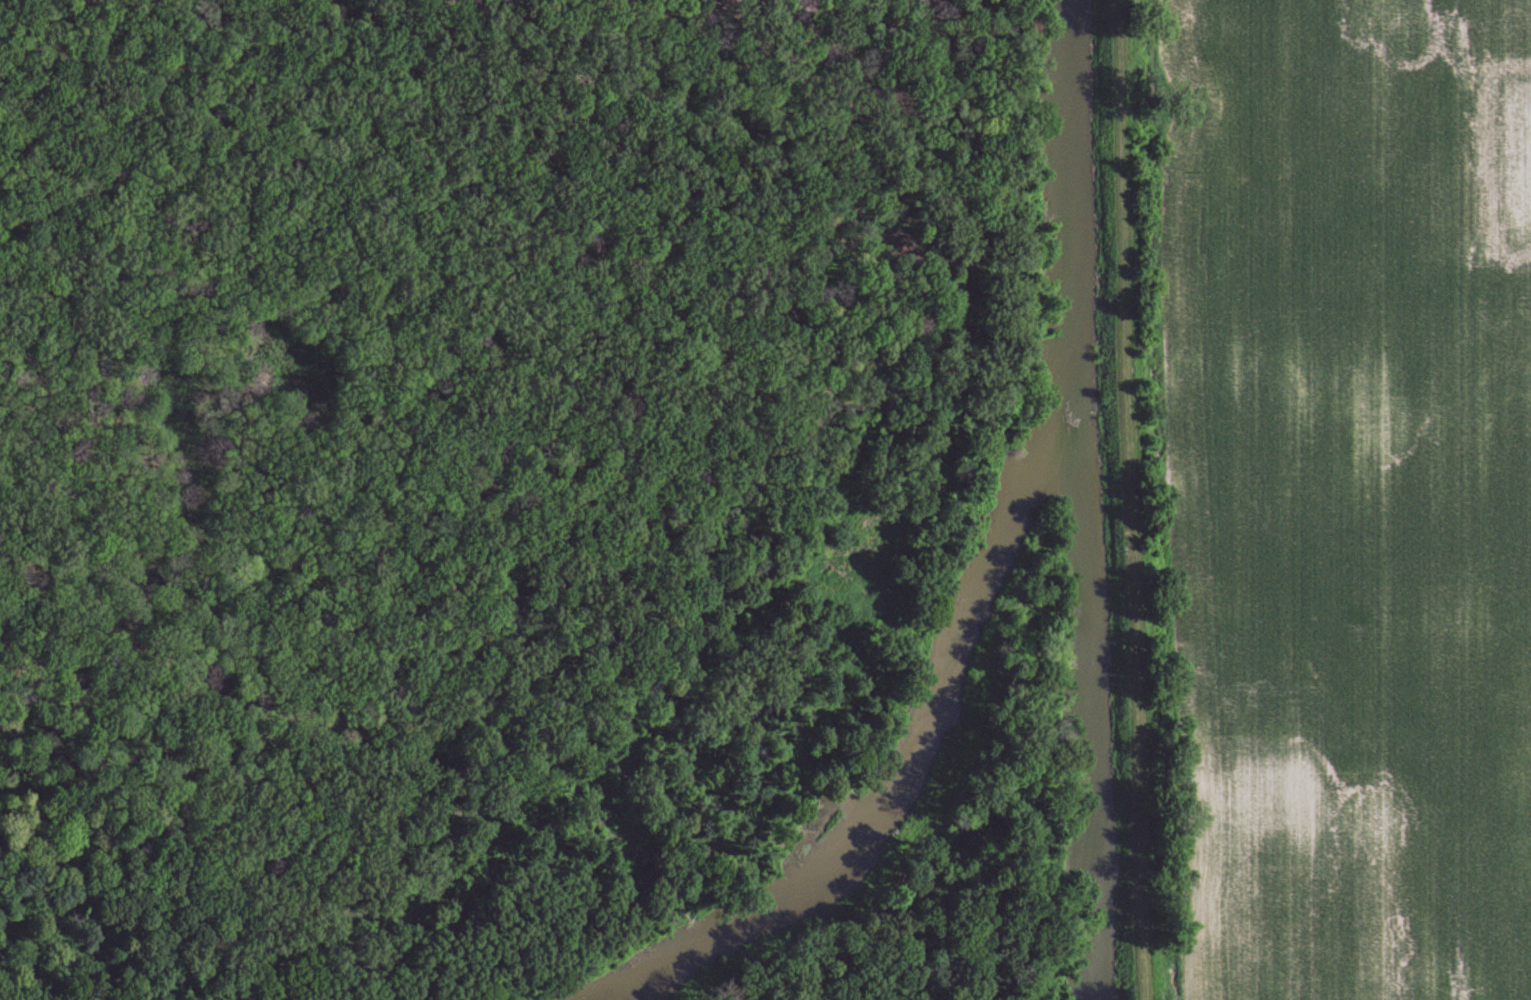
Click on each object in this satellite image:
crop: (1347, 495)

